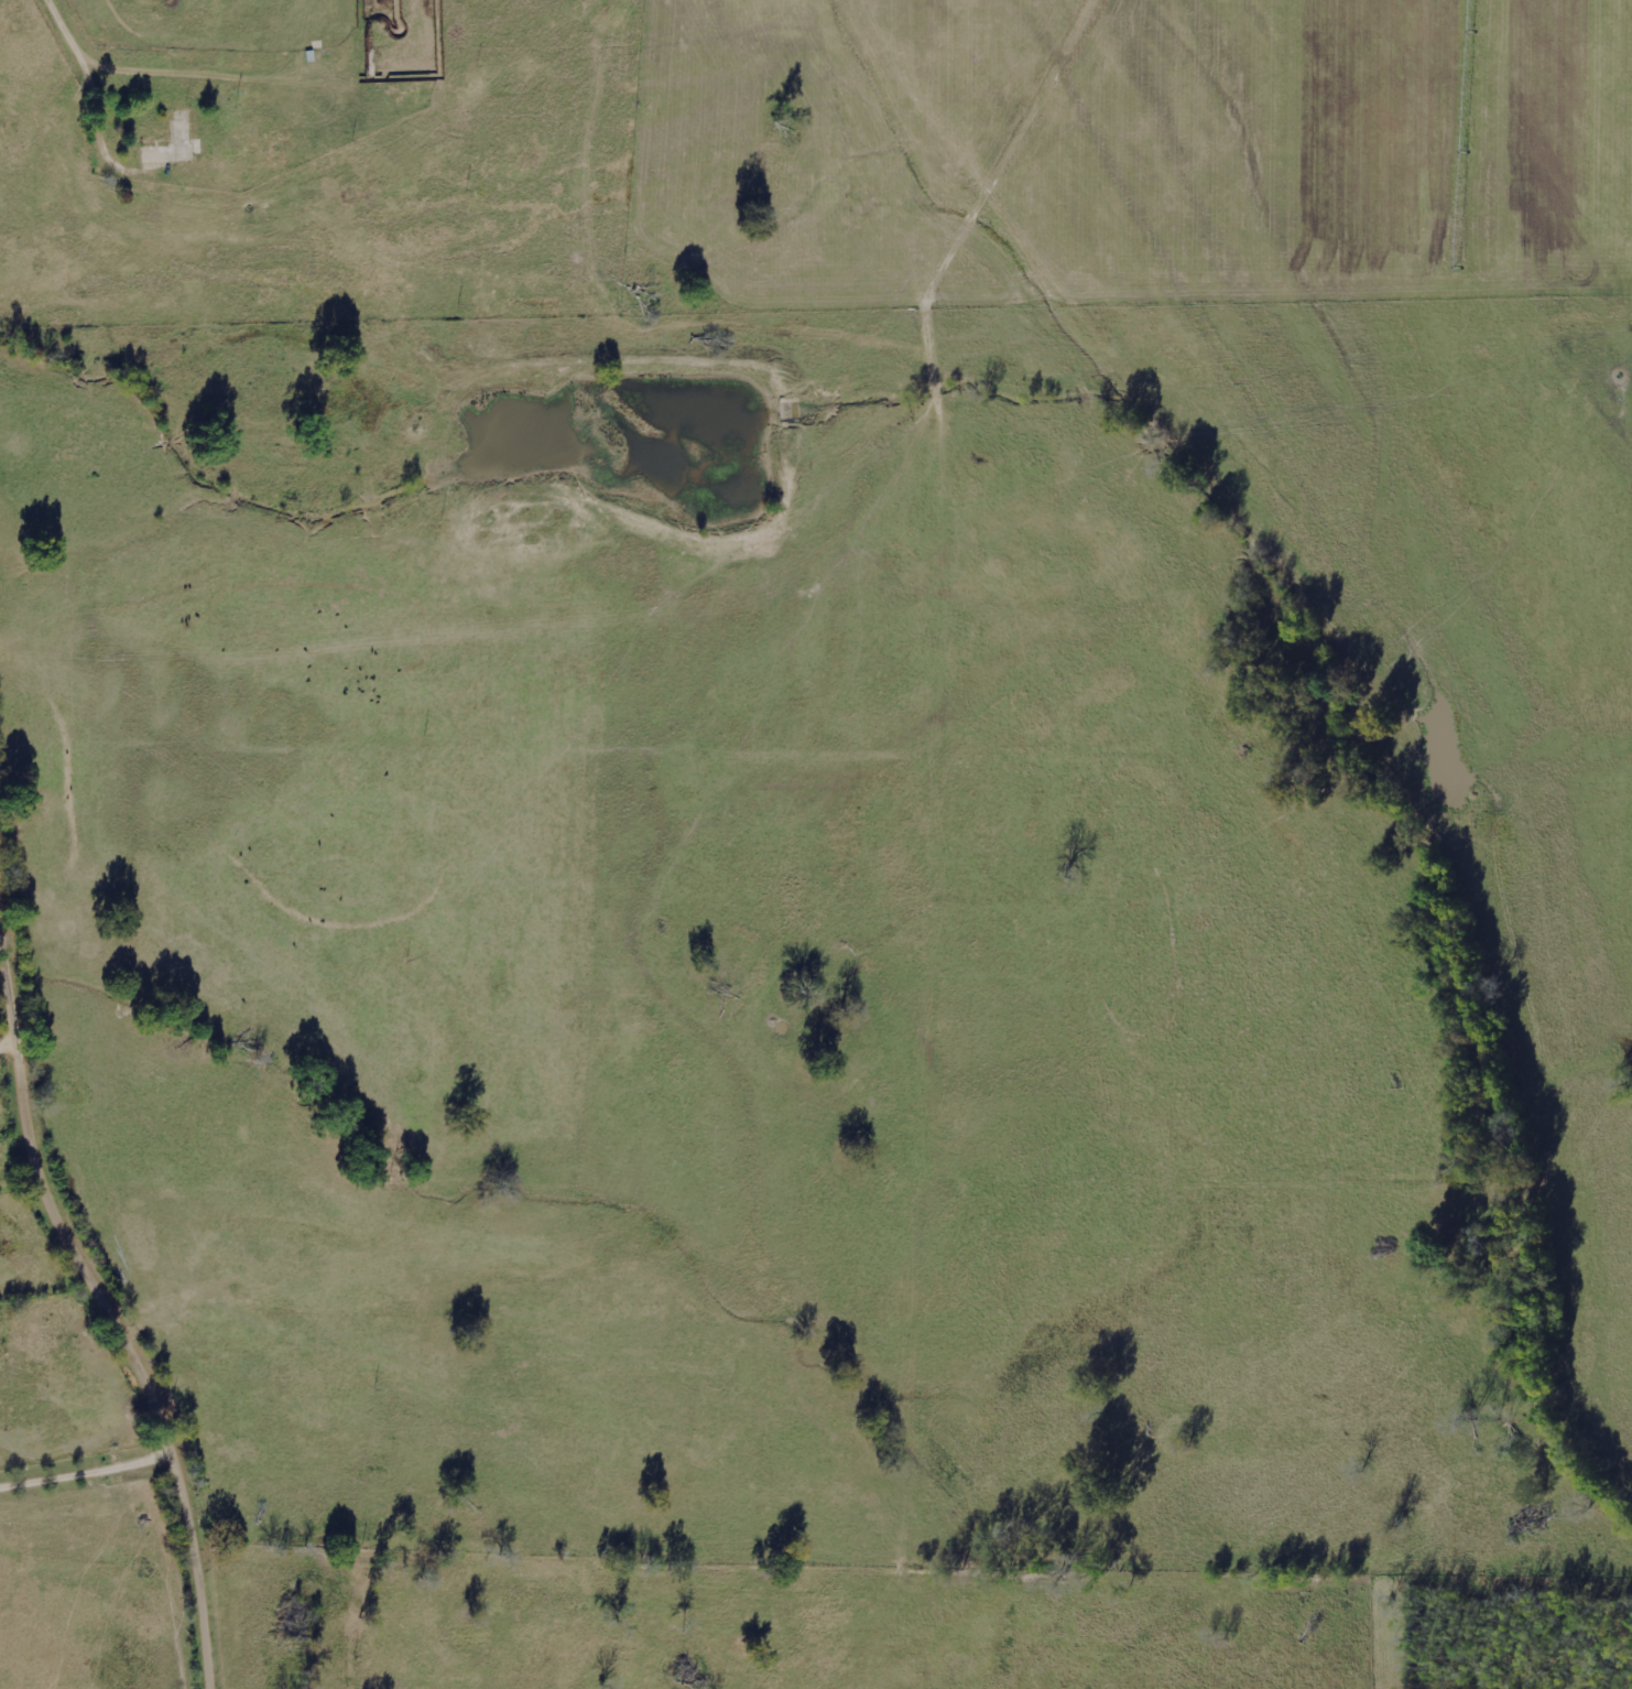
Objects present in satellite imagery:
road: (47, 1140)
road: (57, 1314)

